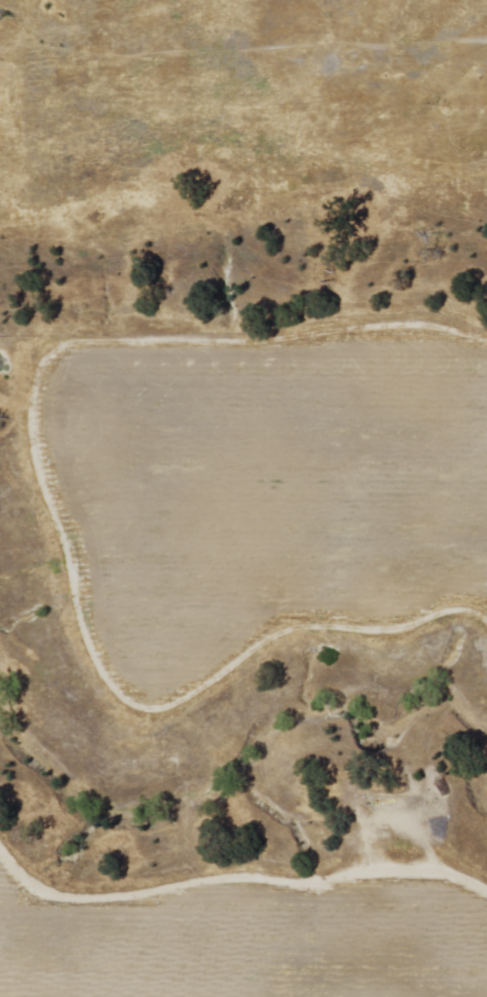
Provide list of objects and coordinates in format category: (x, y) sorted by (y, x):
road: (49, 510)
road: (235, 878)

